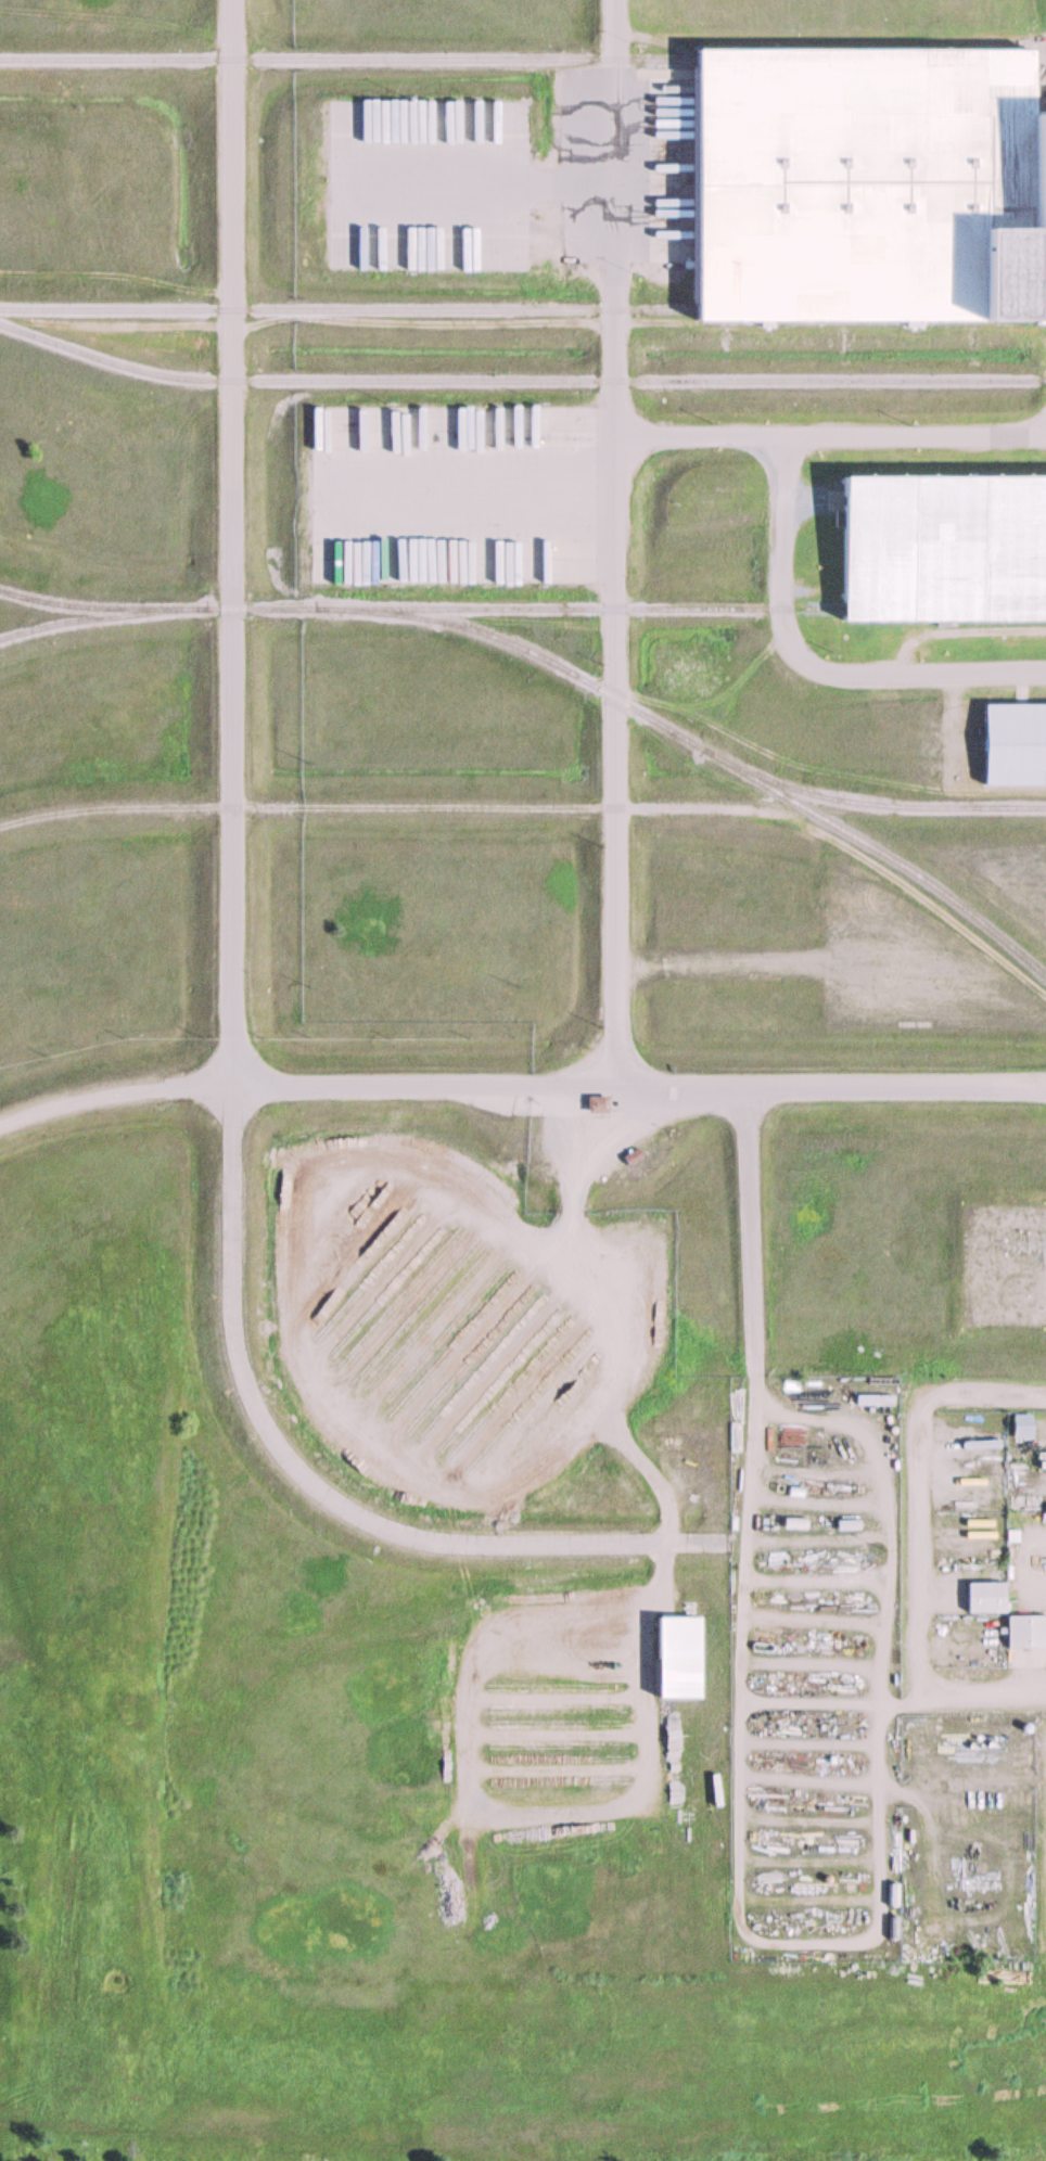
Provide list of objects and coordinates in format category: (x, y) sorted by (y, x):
railway: (334, 59)
parking lot: (426, 180)
road: (468, 180)
building: (858, 184)
railway: (335, 308)
railway: (519, 380)
road: (826, 437)
parking lot: (460, 494)
road: (460, 495)
road: (233, 541)
road: (608, 545)
building: (930, 548)
railway: (589, 606)
railway: (100, 618)
road: (809, 663)
railway: (562, 666)
building: (1008, 743)
railway: (868, 804)
road: (640, 1088)
road: (115, 1089)
building: (589, 1107)
road: (747, 1229)
building: (870, 1401)
building: (1017, 1427)
road: (316, 1481)
building: (983, 1597)
building: (1028, 1634)
building: (675, 1657)

